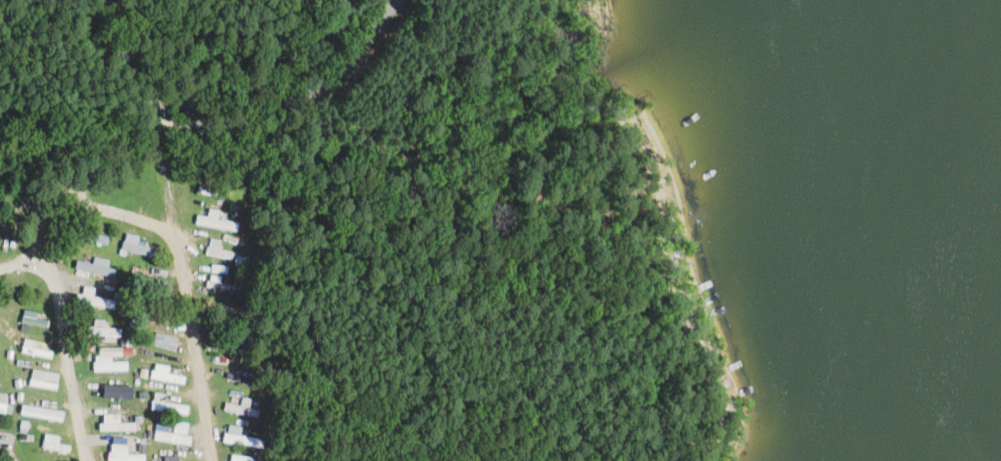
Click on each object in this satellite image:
road: (235, 120)
building: (210, 192)
park: (443, 210)
building: (217, 222)
building: (90, 236)
building: (139, 247)
building: (218, 250)
road: (17, 264)
building: (97, 267)
road: (46, 272)
building: (223, 286)
building: (96, 299)
road: (184, 307)
building: (151, 310)
building: (230, 318)
building: (33, 319)
building: (104, 329)
building: (165, 341)
building: (234, 346)
building: (38, 350)
building: (110, 360)
building: (168, 376)
building: (44, 380)
building: (119, 392)
building: (3, 402)
building: (166, 404)
building: (234, 408)
building: (51, 414)
building: (115, 423)
building: (175, 434)
building: (241, 437)
building: (124, 454)
building: (174, 458)

